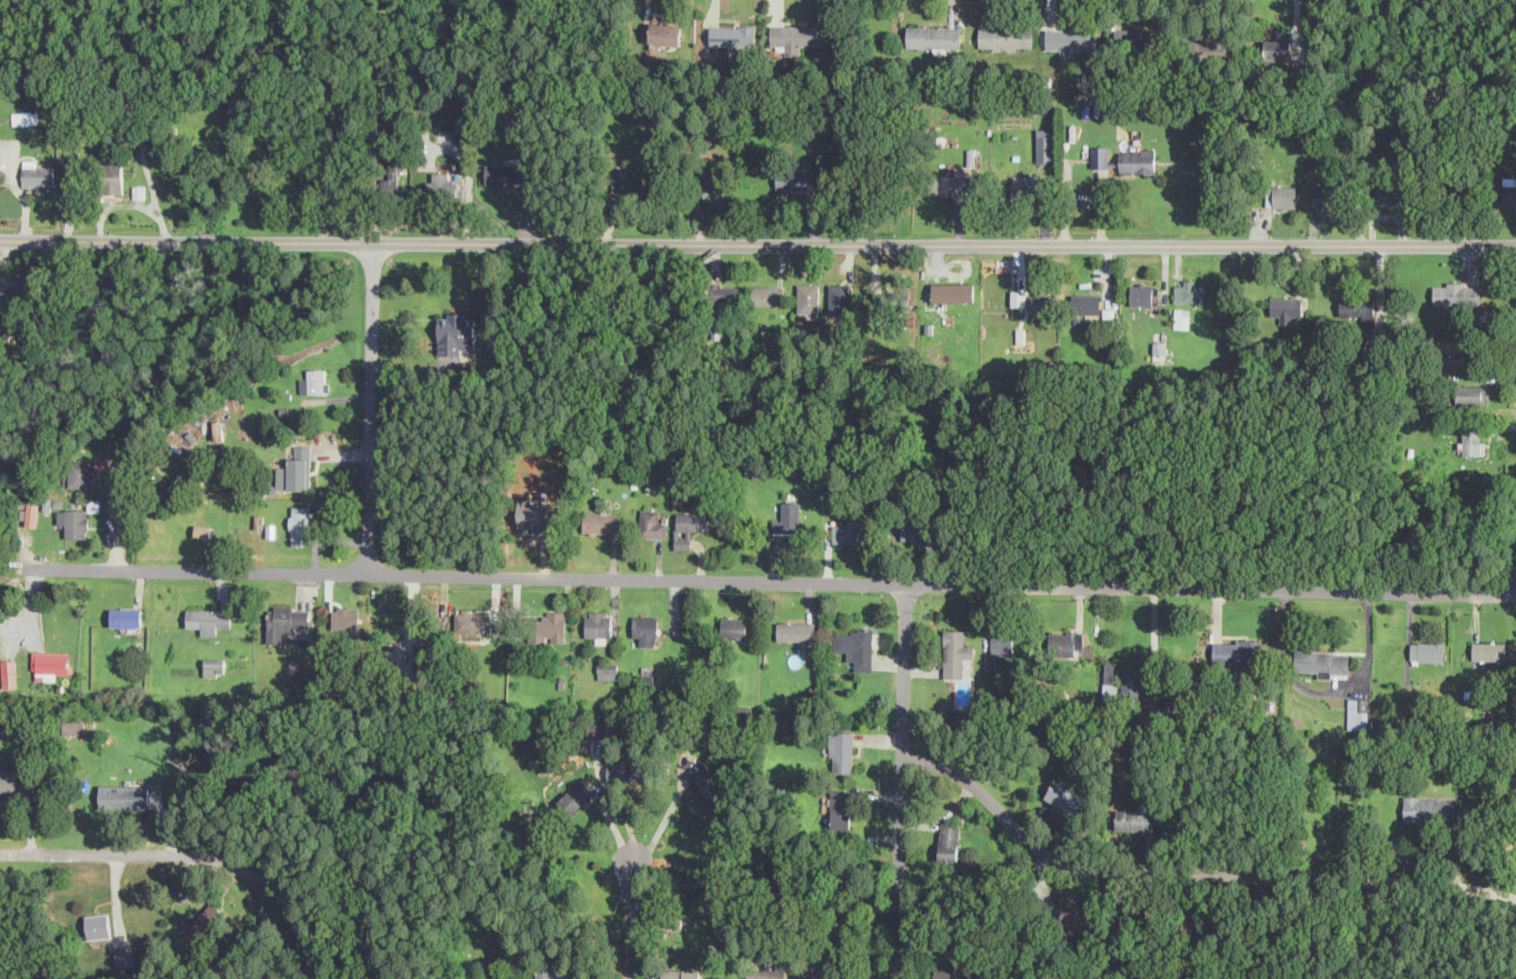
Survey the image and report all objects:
building: (658, 18)
building: (665, 33)
building: (733, 34)
building: (1006, 36)
building: (798, 37)
building: (931, 37)
building: (1072, 38)
building: (1137, 39)
building: (1209, 49)
building: (1277, 49)
building: (26, 117)
building: (1045, 144)
building: (1101, 157)
building: (1138, 160)
building: (394, 170)
building: (505, 173)
building: (37, 174)
building: (111, 174)
building: (795, 179)
building: (441, 182)
building: (950, 182)
building: (1456, 183)
building: (1026, 186)
building: (712, 189)
building: (1508, 190)
building: (1392, 191)
building: (1282, 196)
building: (1323, 196)
road: (757, 242)
building: (15, 282)
building: (1189, 290)
building: (954, 292)
building: (1456, 293)
building: (768, 294)
building: (1145, 294)
building: (725, 295)
building: (808, 300)
building: (892, 301)
building: (839, 302)
building: (1031, 302)
building: (1087, 304)
building: (1286, 307)
building: (1356, 308)
building: (1182, 318)
building: (456, 332)
building: (1160, 350)
building: (315, 381)
building: (1471, 394)
road: (370, 407)
building: (1474, 442)
building: (102, 463)
building: (296, 469)
building: (81, 473)
building: (536, 513)
building: (32, 514)
building: (789, 518)
road: (118, 519)
building: (601, 521)
building: (77, 522)
building: (652, 523)
building: (300, 524)
building: (689, 527)
building: (916, 529)
building: (202, 530)
building: (846, 533)
road: (770, 581)
building: (346, 617)
building: (127, 618)
building: (209, 619)
building: (286, 620)
building: (470, 621)
building: (599, 626)
building: (549, 627)
building: (734, 627)
building: (646, 630)
building: (796, 630)
building: (1067, 642)
building: (1002, 643)
building: (856, 645)
building: (1427, 650)
building: (1489, 650)
building: (956, 652)
building: (1236, 652)
building: (426, 653)
building: (1323, 661)
building: (53, 664)
building: (214, 666)
building: (608, 670)
building: (10, 673)
building: (649, 678)
building: (1110, 680)
building: (1131, 683)
road: (1326, 691)
building: (1170, 700)
building: (1358, 712)
building: (74, 727)
building: (596, 728)
building: (842, 751)
building: (626, 771)
building: (707, 779)
building: (8, 780)
road: (900, 781)
building: (577, 795)
building: (113, 796)
building: (1065, 797)
building: (841, 808)
building: (1428, 808)
building: (1136, 818)
road: (662, 823)
building: (948, 841)
road: (194, 854)
road: (1190, 872)
building: (1076, 916)
road: (631, 920)
building: (210, 921)
building: (1191, 924)
building: (98, 925)
building: (124, 955)
building: (556, 970)
building: (681, 974)
building: (765, 974)
building: (947, 974)
building: (824, 975)

